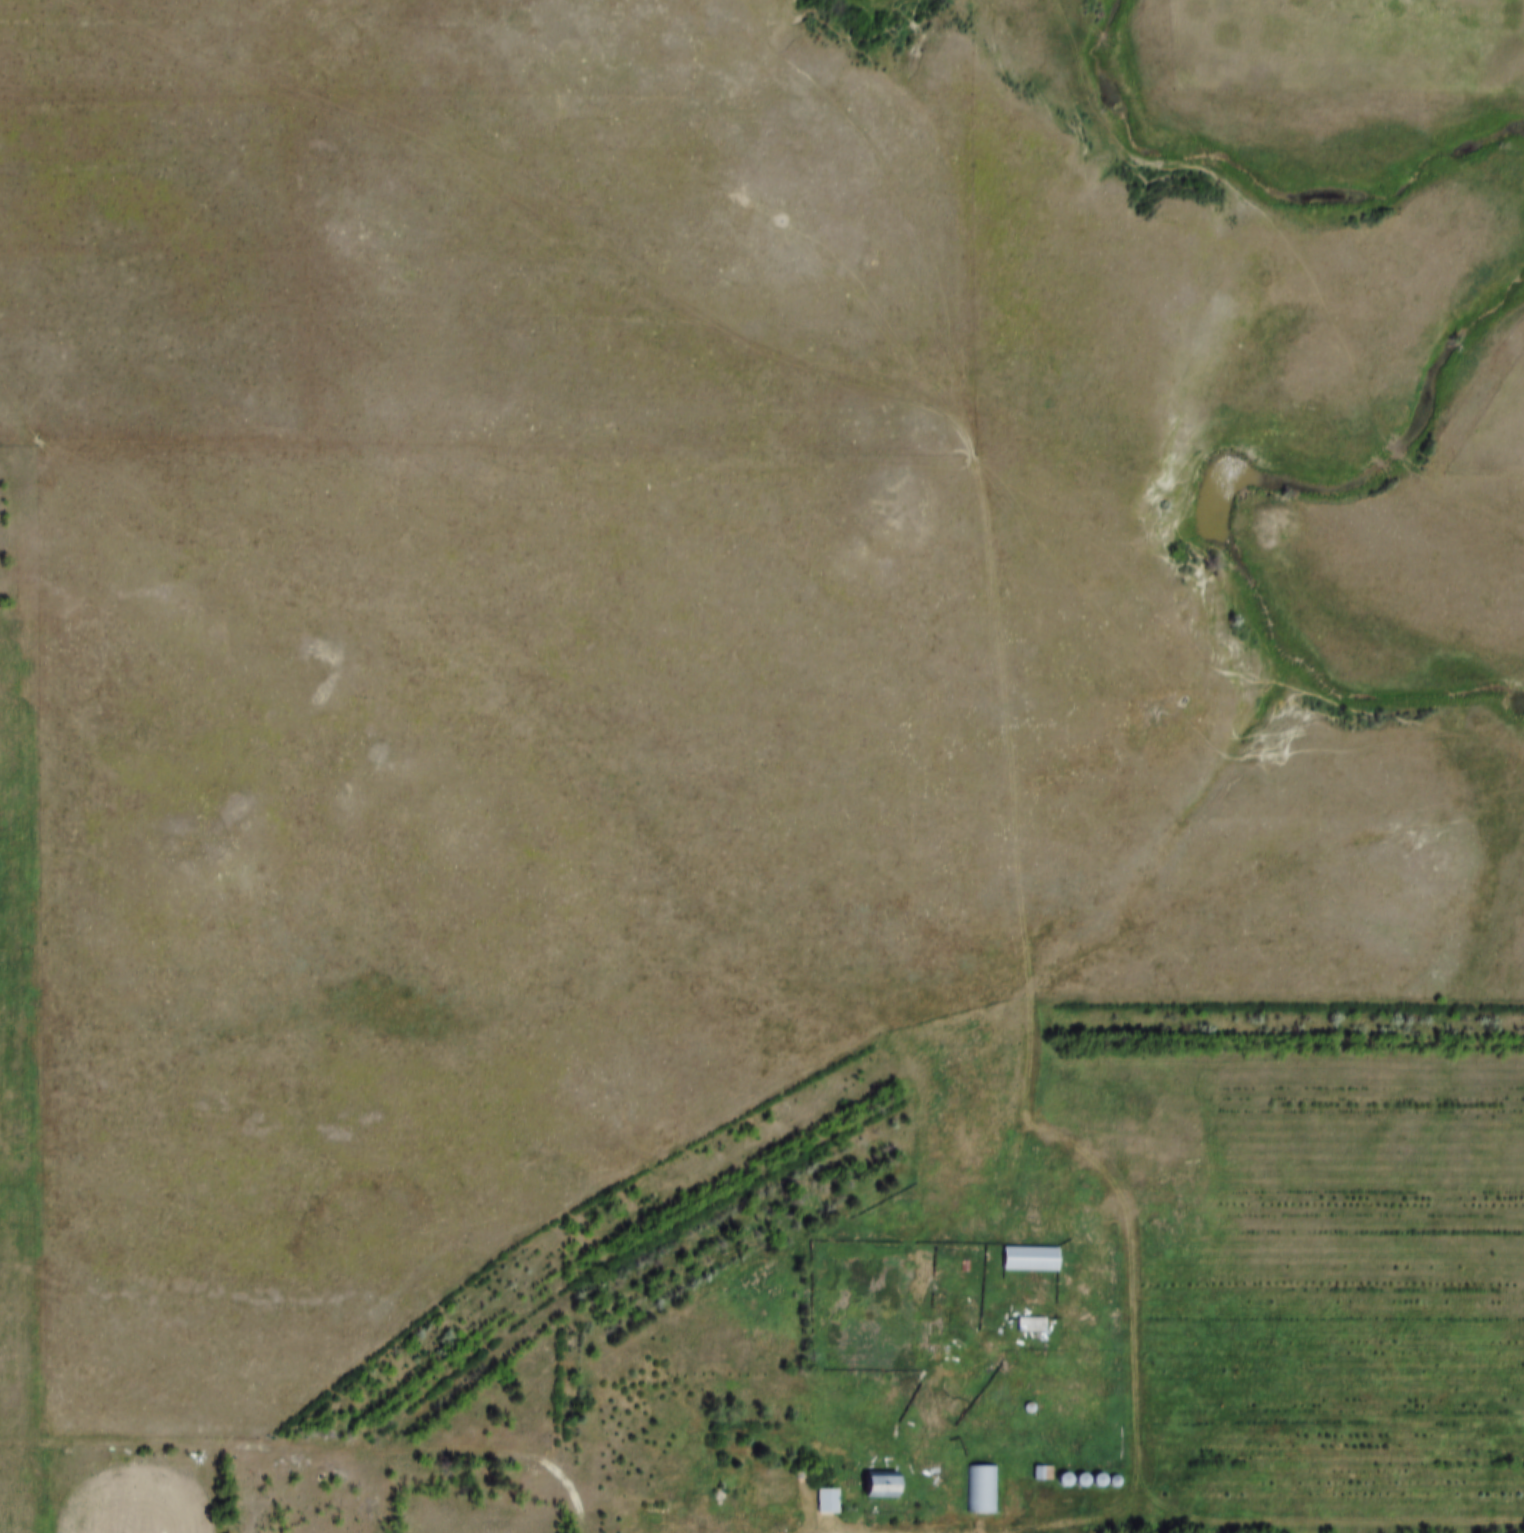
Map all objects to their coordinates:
building: (1035, 1254)
building: (1036, 1320)
road: (315, 1449)
building: (886, 1481)
building: (985, 1486)
building: (832, 1497)

